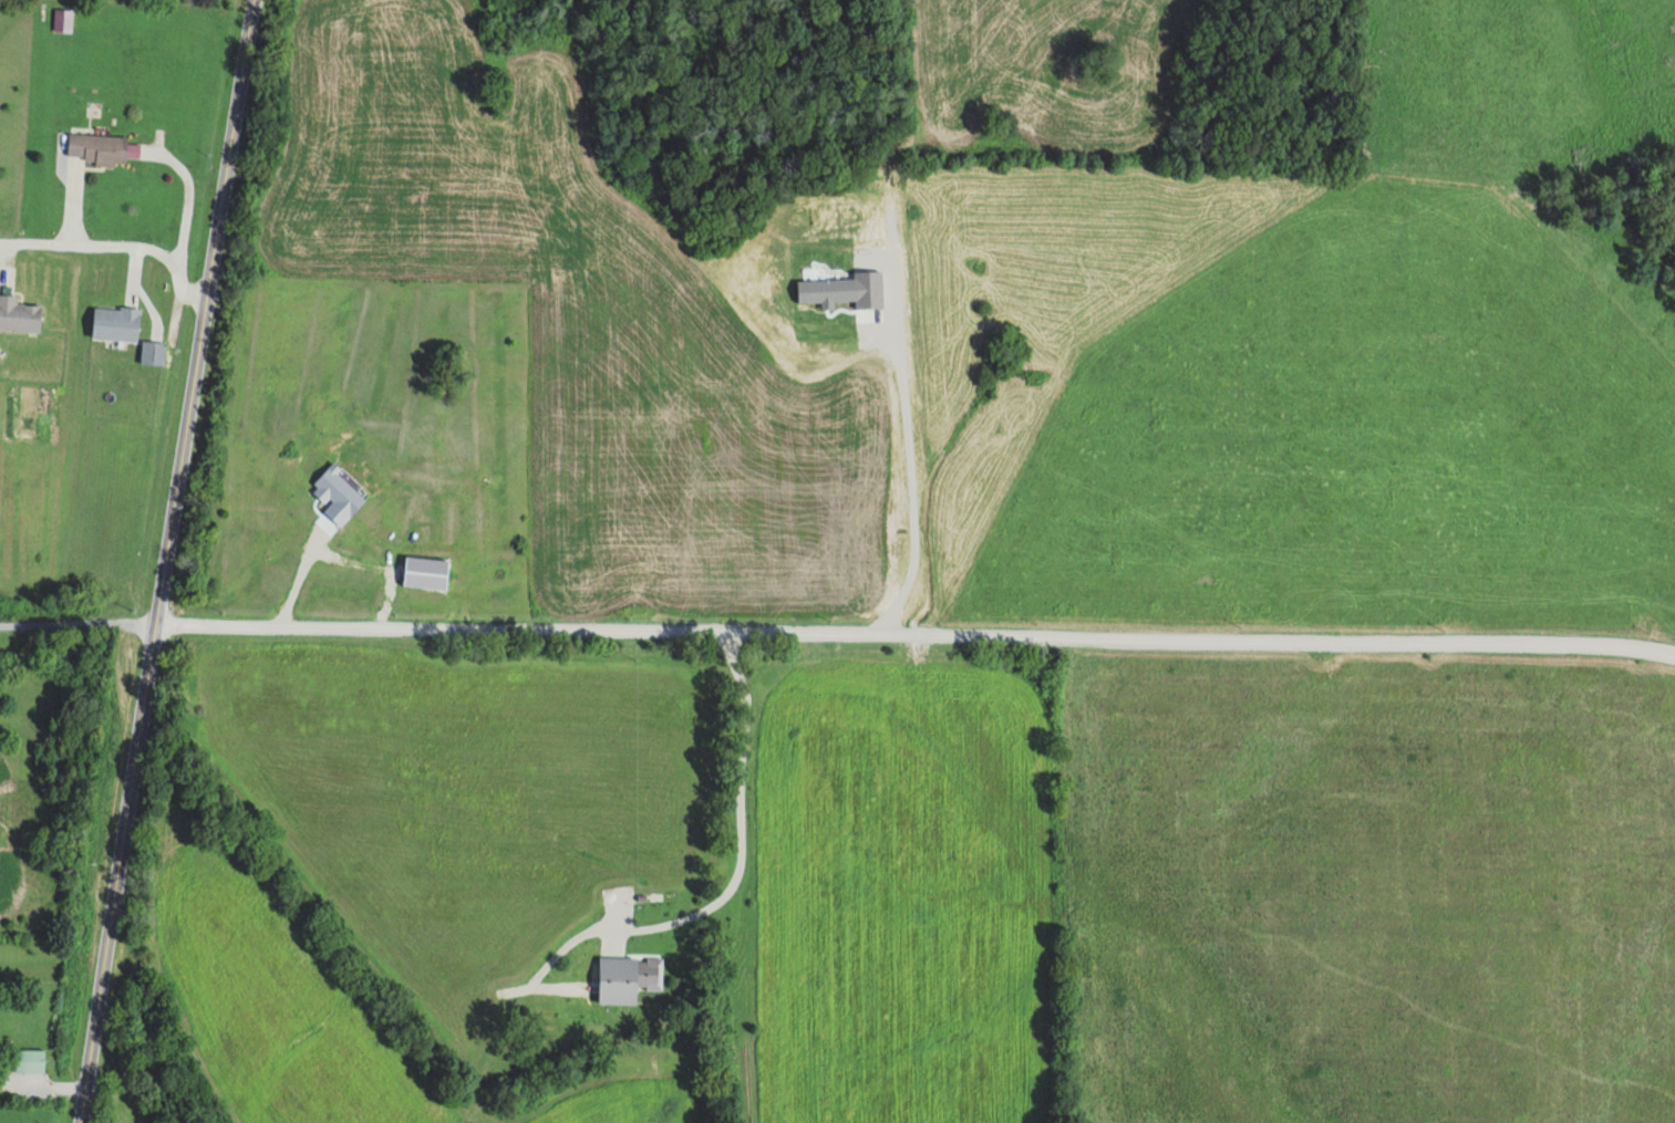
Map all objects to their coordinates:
building: (101, 149)
road: (115, 242)
building: (7, 272)
building: (18, 313)
road: (162, 561)
road: (75, 626)
road: (913, 663)
building: (617, 980)
building: (29, 1060)

